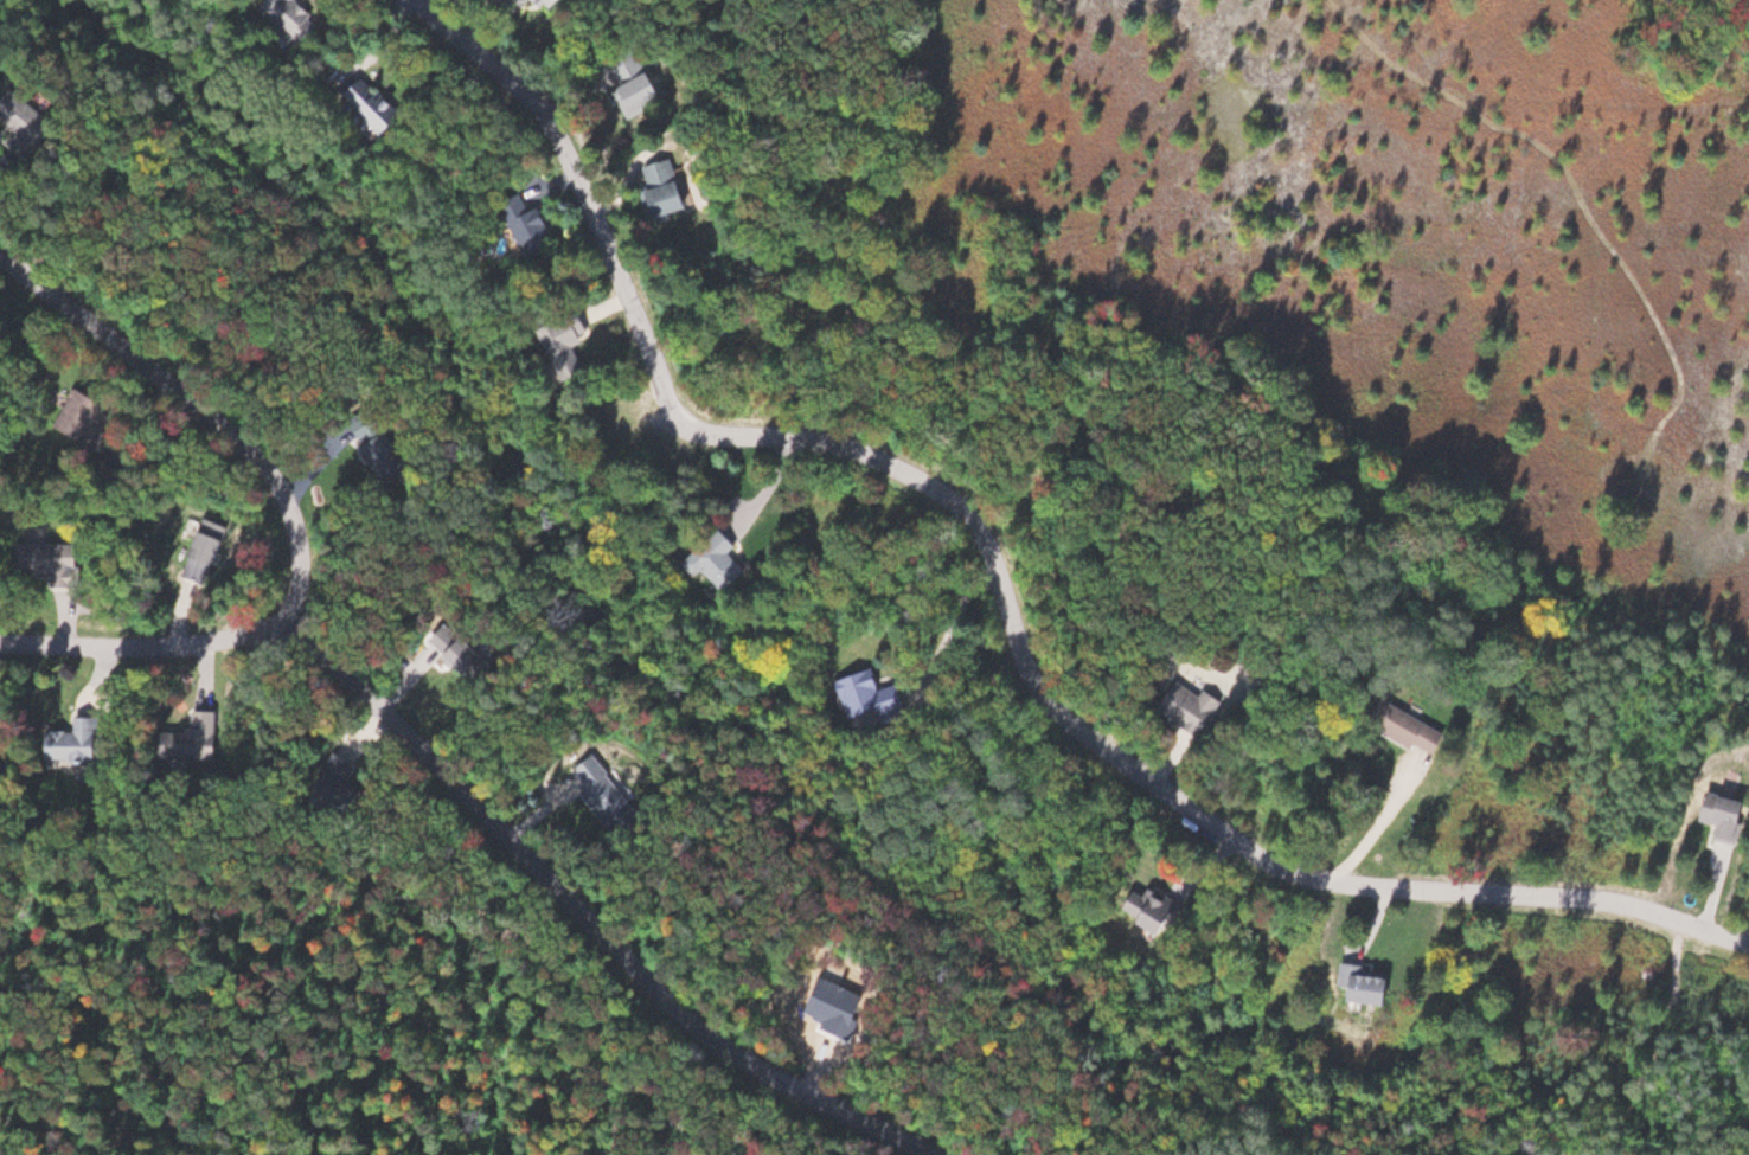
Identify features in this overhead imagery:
building: (544, 4)
building: (306, 15)
building: (648, 82)
building: (382, 107)
building: (680, 195)
building: (534, 222)
building: (574, 340)
building: (92, 416)
building: (397, 447)
road: (296, 514)
building: (216, 539)
building: (725, 560)
building: (64, 562)
road: (1004, 578)
building: (480, 659)
building: (1196, 704)
building: (95, 707)
building: (1414, 726)
building: (200, 736)
building: (613, 795)
building: (1731, 815)
road: (589, 913)
building: (1172, 917)
building: (1379, 983)

